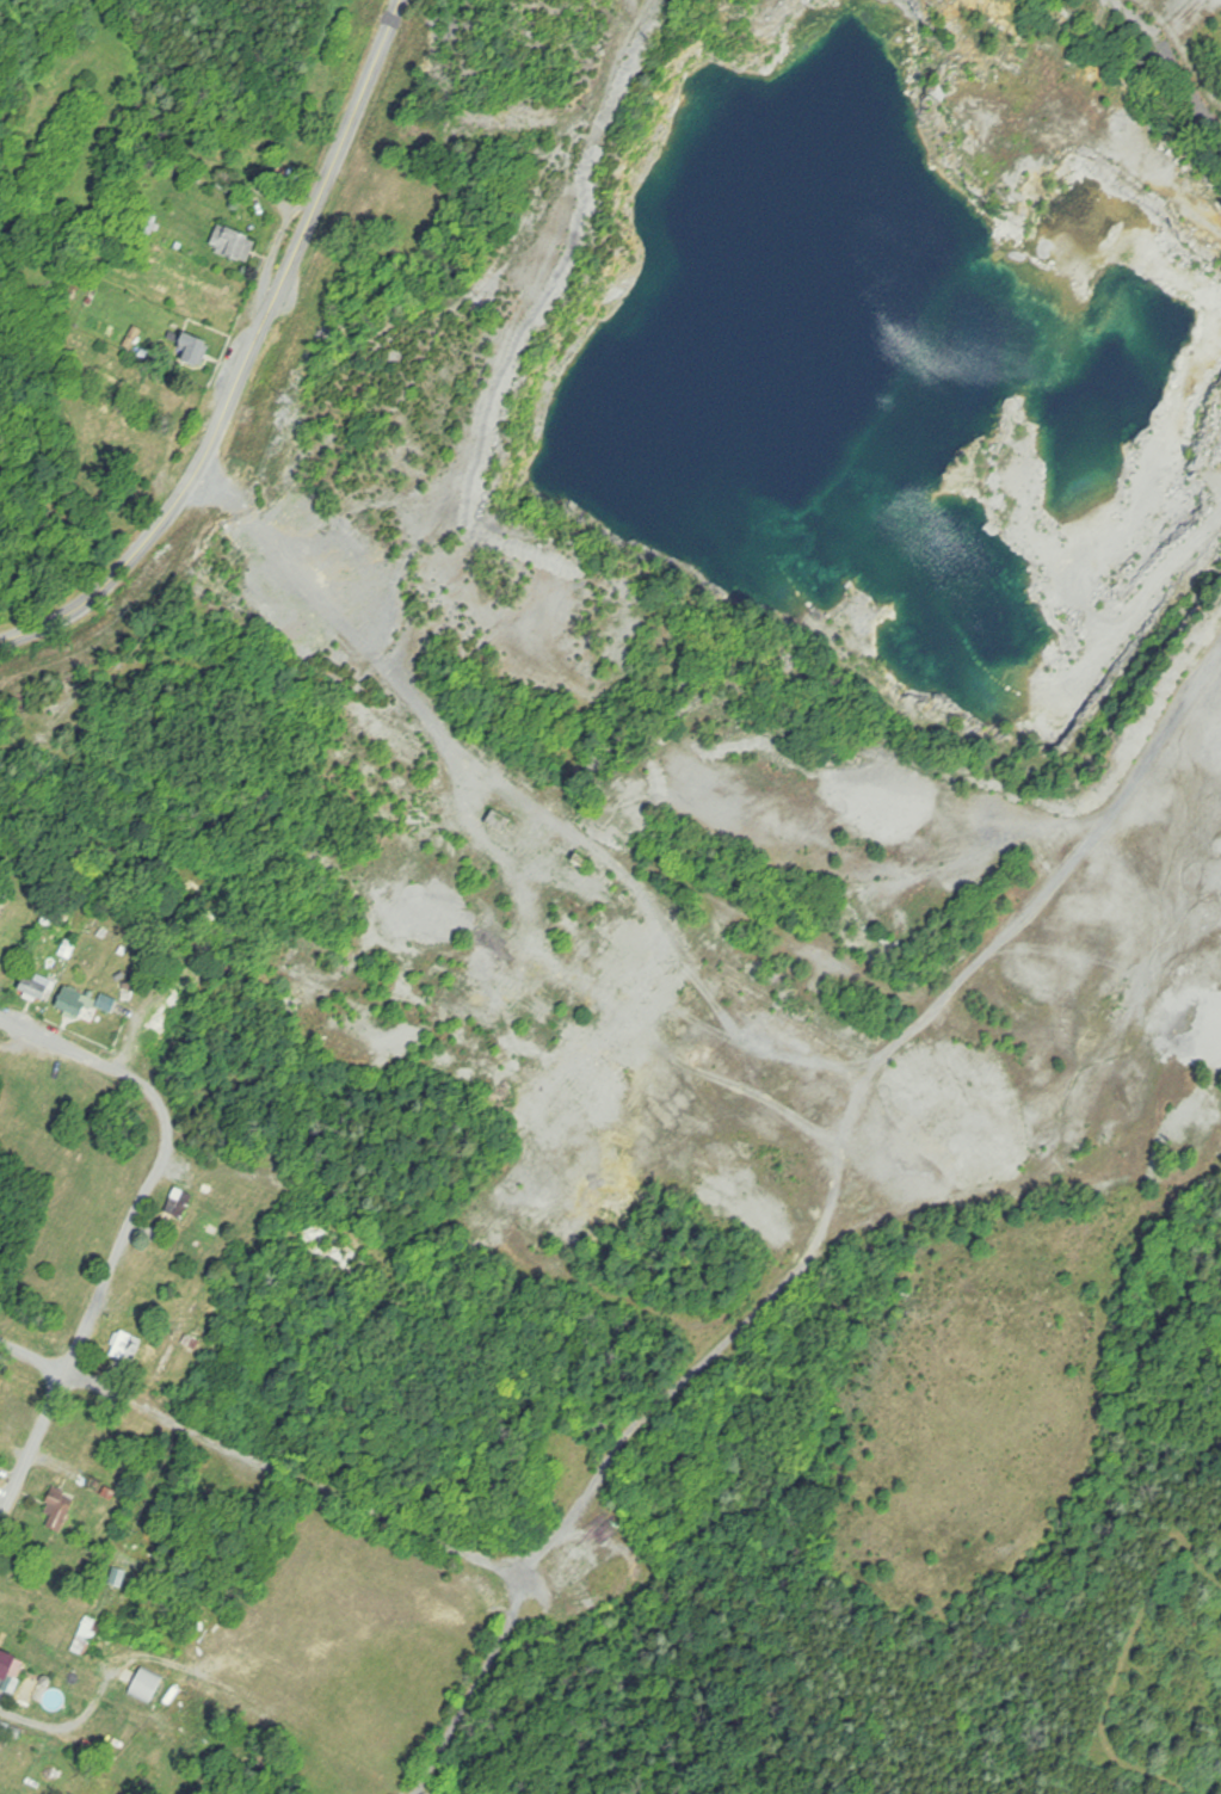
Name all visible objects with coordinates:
road: (1154, 14)
road: (1185, 44)
building: (236, 243)
building: (187, 345)
road: (248, 359)
road: (1134, 612)
quarry: (726, 637)
road: (999, 937)
building: (39, 986)
building: (78, 1003)
building: (181, 1202)
road: (129, 1227)
building: (140, 1296)
building: (128, 1346)
road: (263, 1462)
road: (590, 1494)
building: (57, 1515)
building: (576, 1572)
building: (87, 1636)
building: (8, 1666)
building: (148, 1685)
road: (67, 1732)

